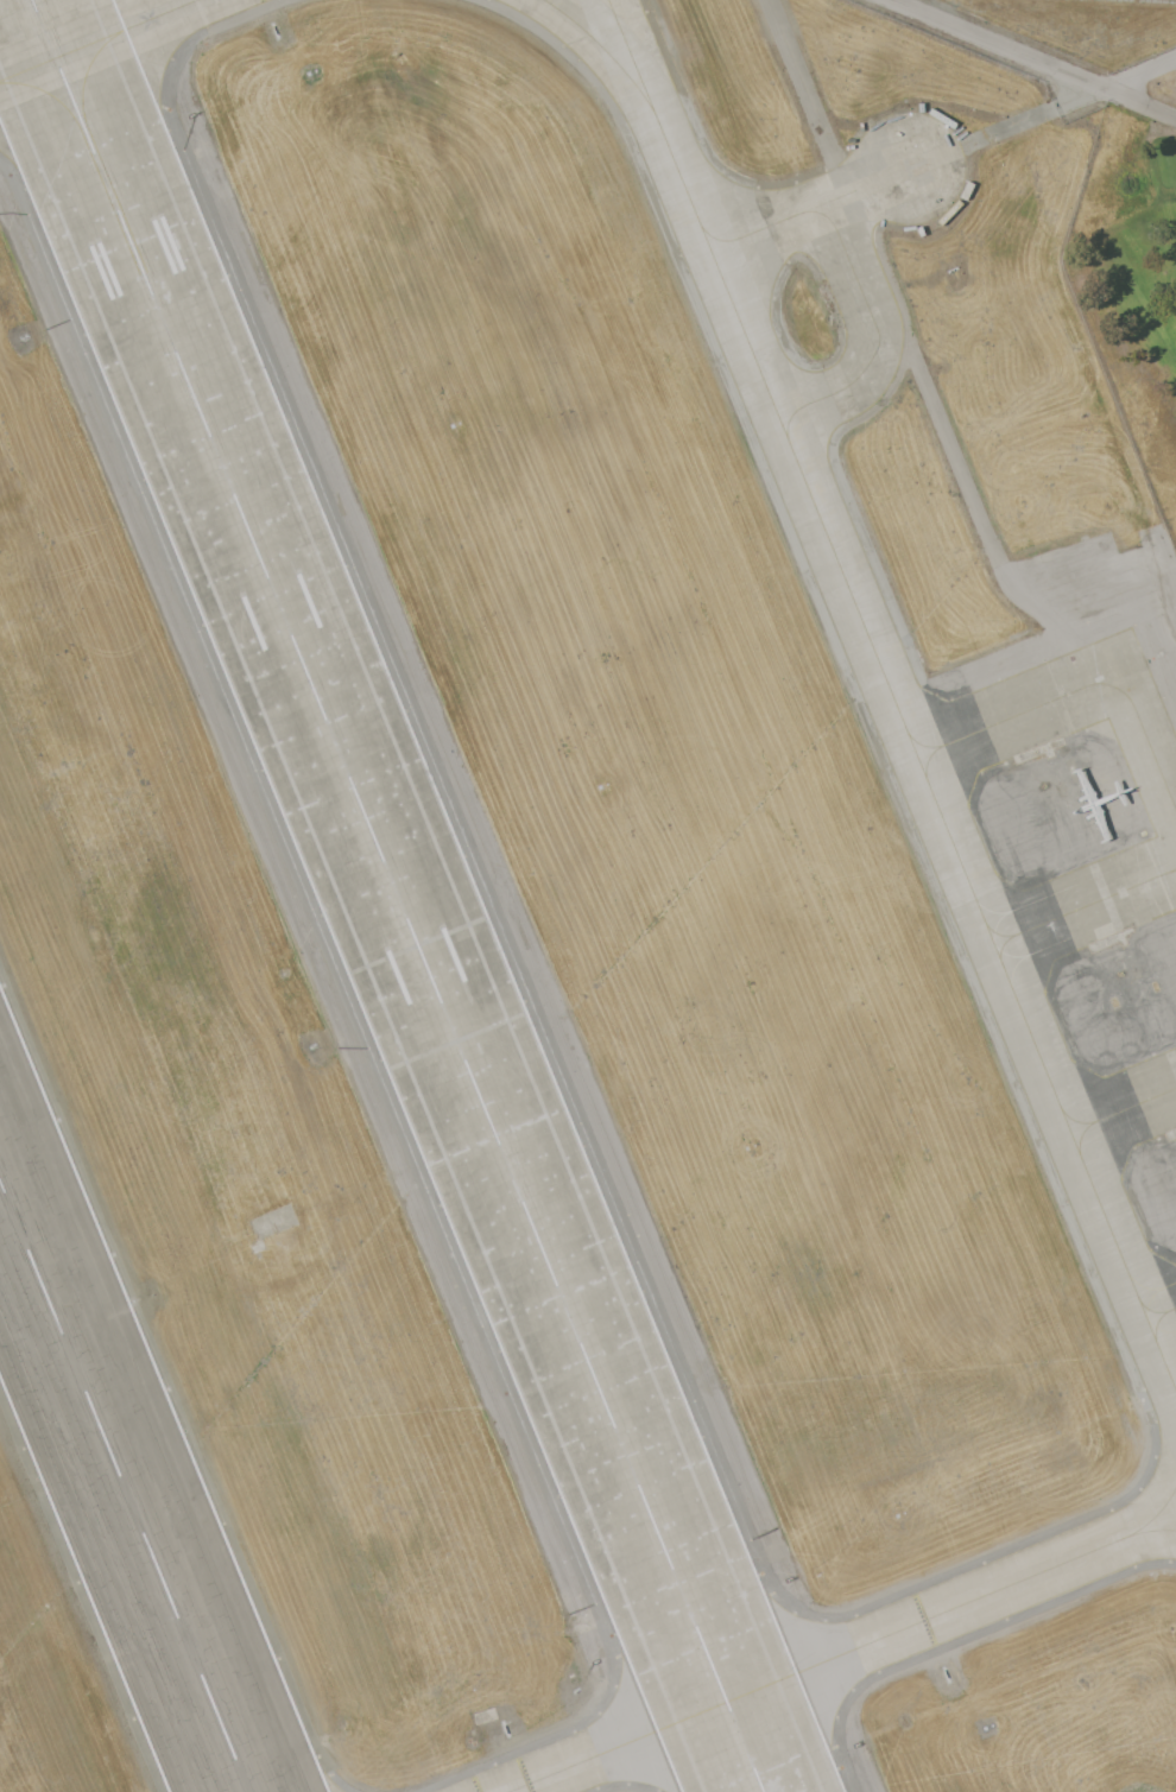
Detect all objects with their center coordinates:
airport taxiway: (102, 42)
airport taxiway: (599, 56)
road: (1033, 59)
road: (808, 97)
road: (1043, 115)
airport taxiway: (811, 210)
park: (1134, 271)
airport taxiway: (879, 333)
airport taxiway: (893, 692)
airport apron: (1086, 827)
airport runway: (398, 895)
airport: (574, 914)
airport runway: (125, 1484)
airport taxiway: (845, 1655)

